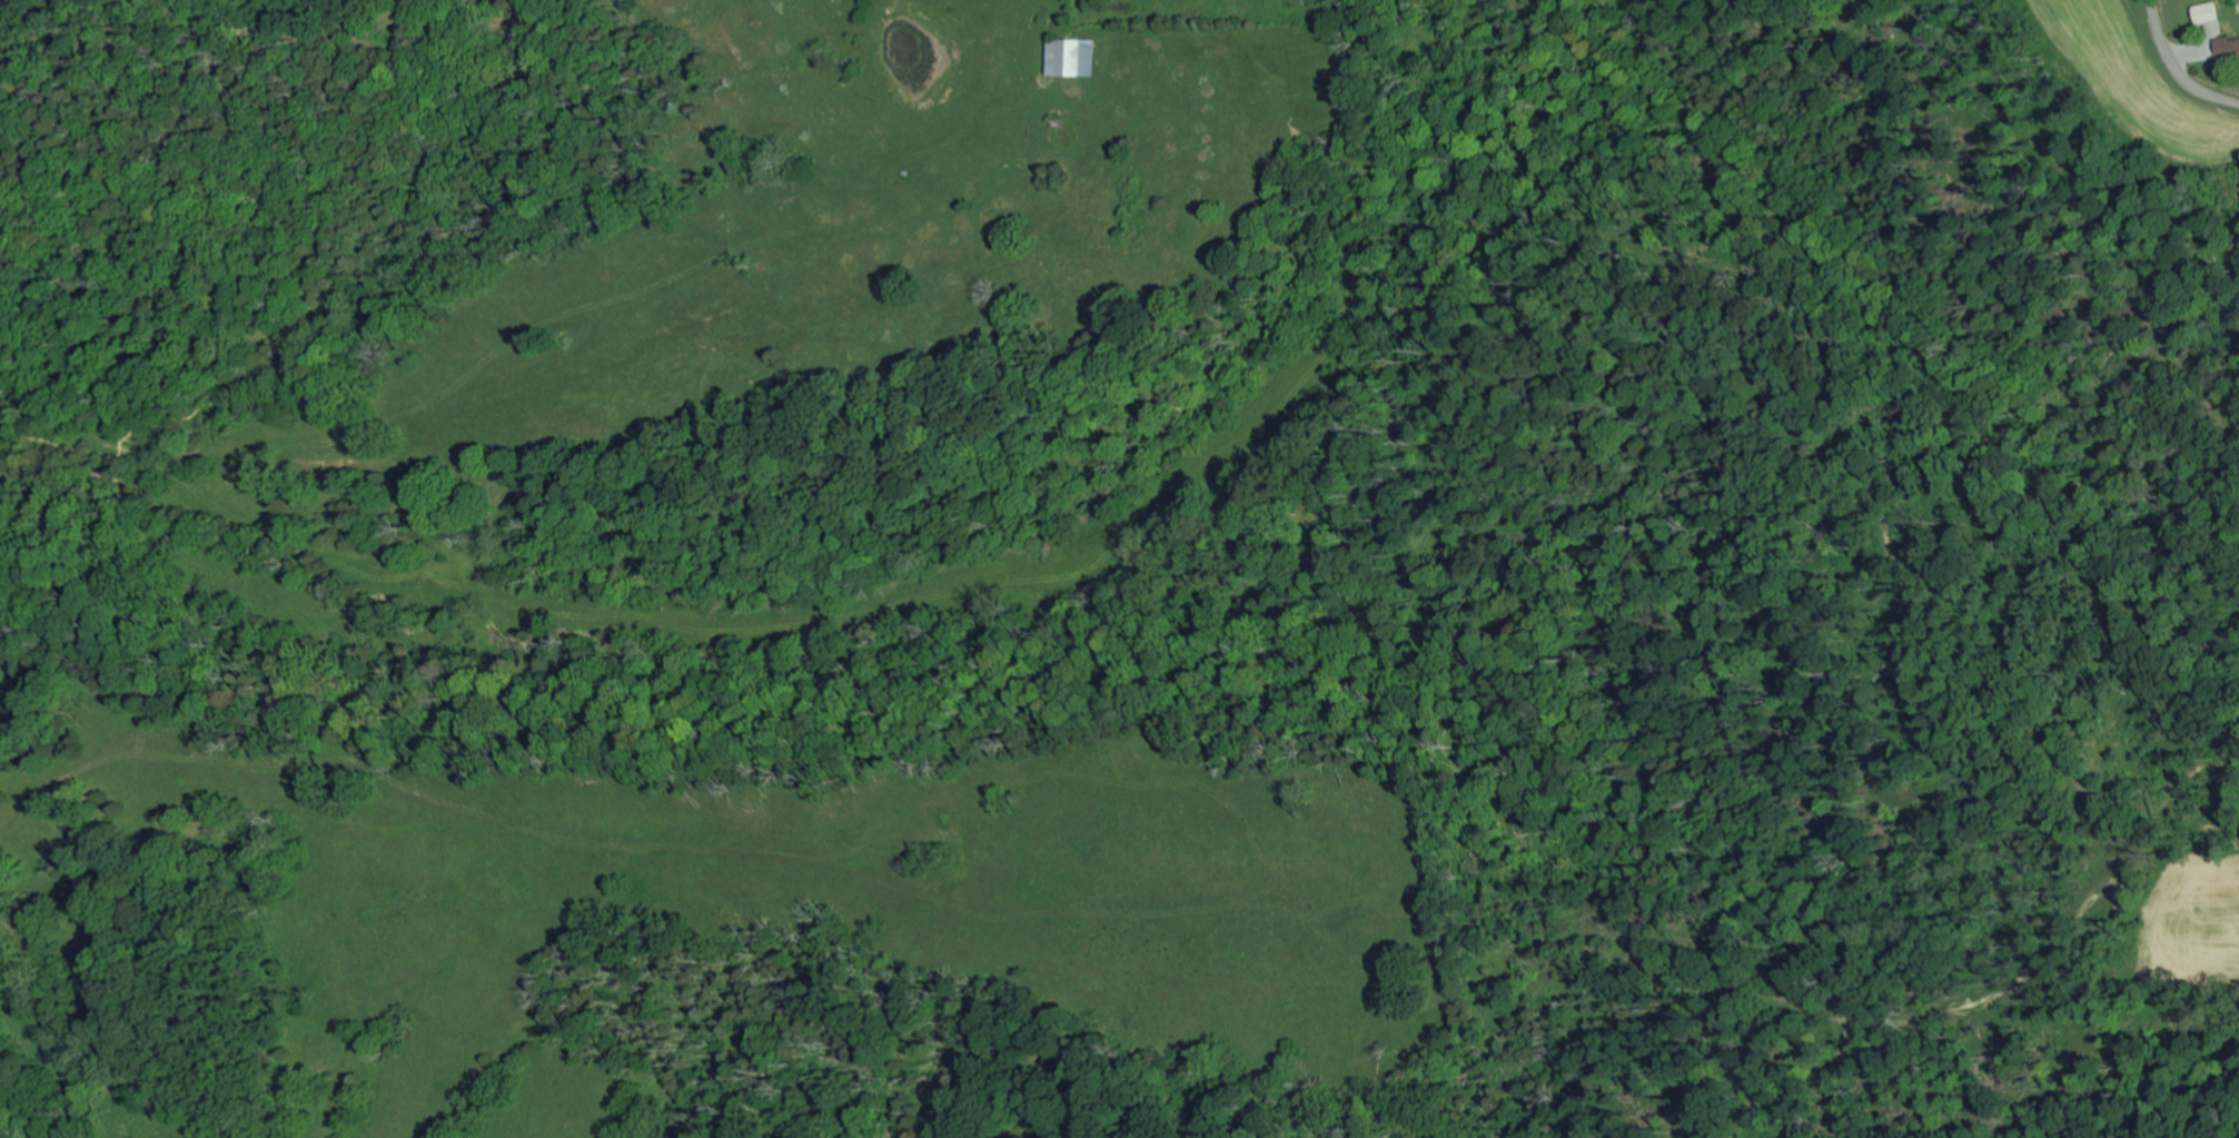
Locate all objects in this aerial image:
building: (2202, 13)
building: (2226, 47)
building: (1067, 58)
road: (2178, 66)

